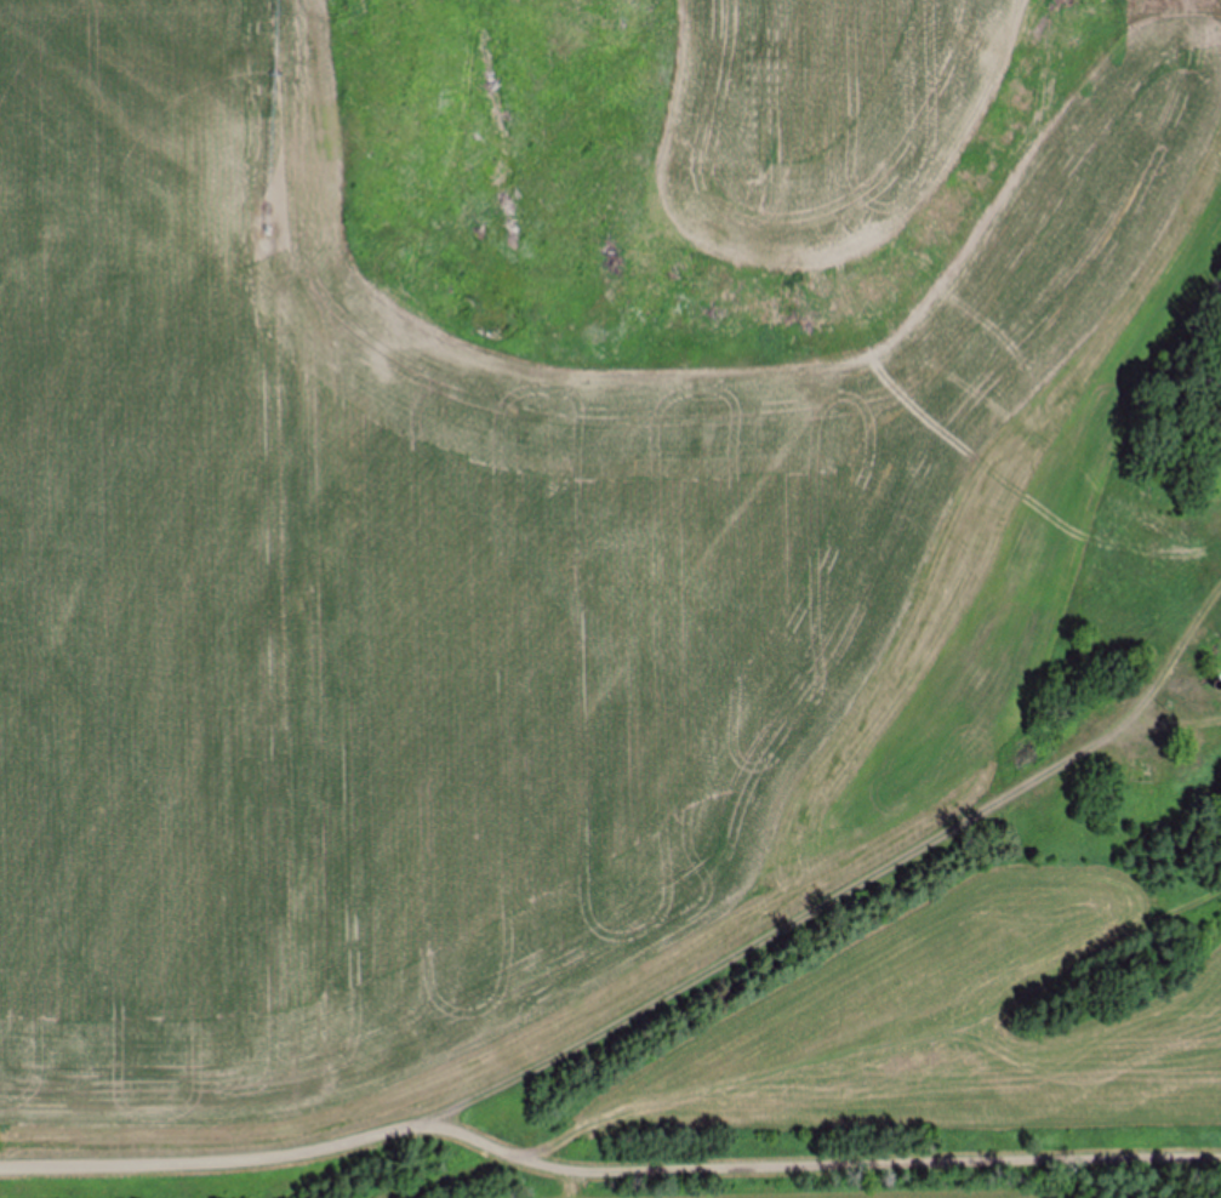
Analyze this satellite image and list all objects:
road: (770, 922)
road: (205, 1162)
road: (809, 1170)

